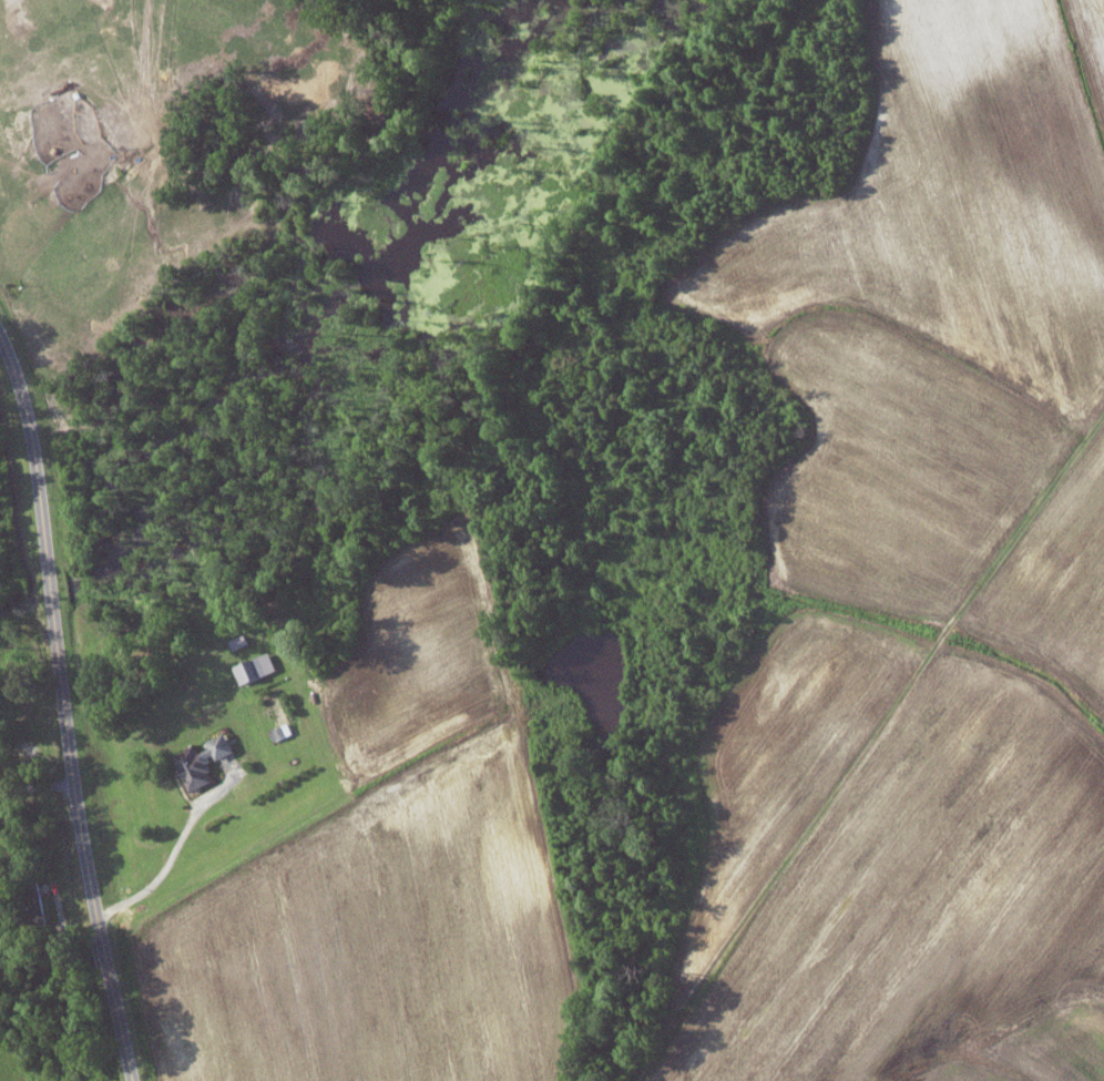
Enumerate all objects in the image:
building: (251, 670)
road: (64, 705)
building: (282, 732)
building: (204, 761)
road: (37, 784)

